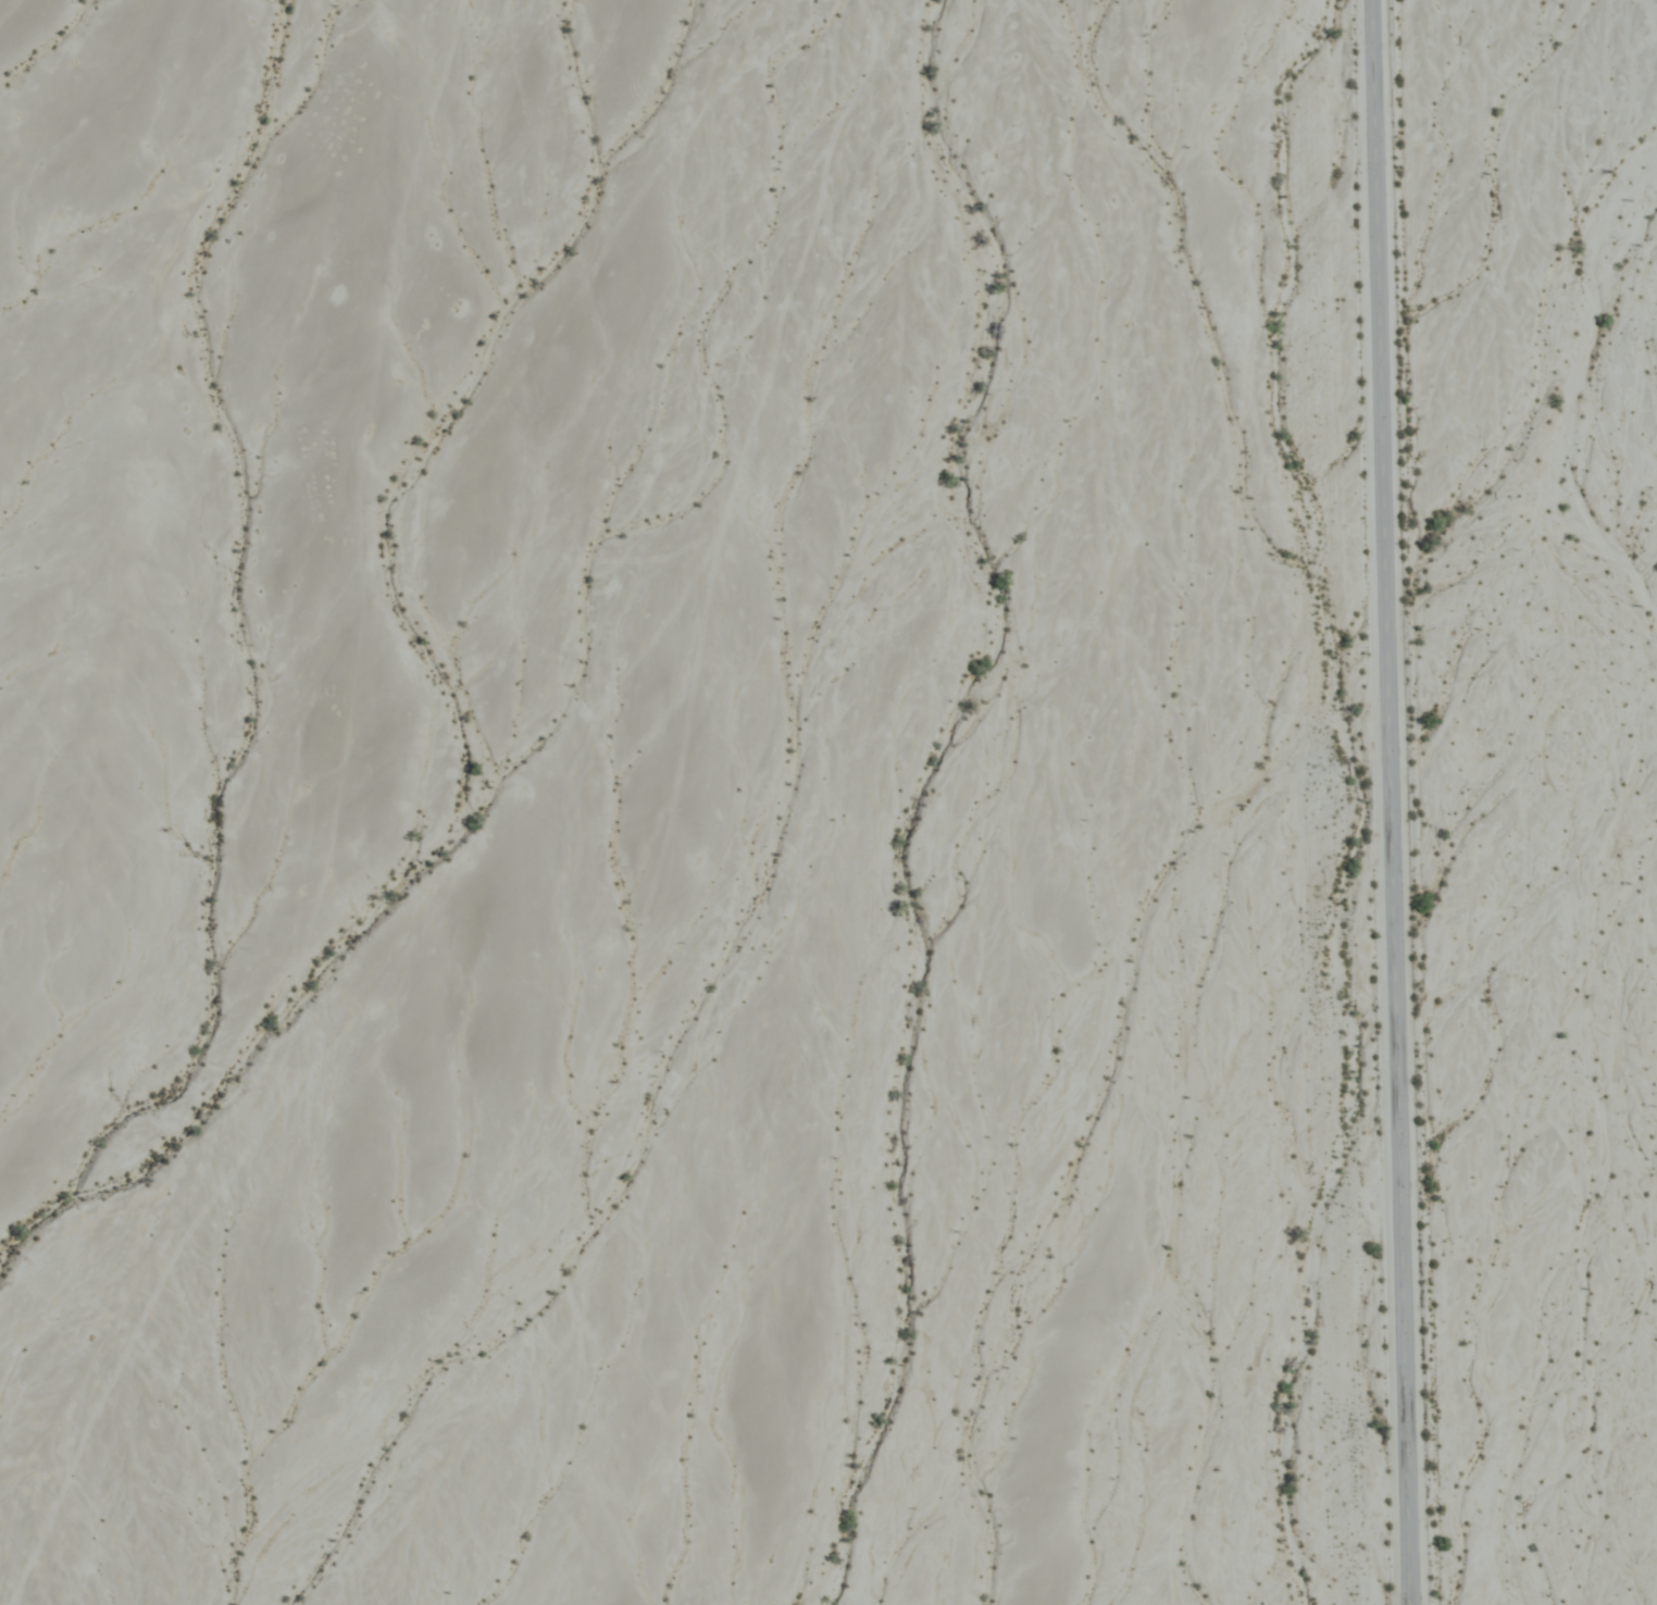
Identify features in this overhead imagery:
road: (1392, 802)

